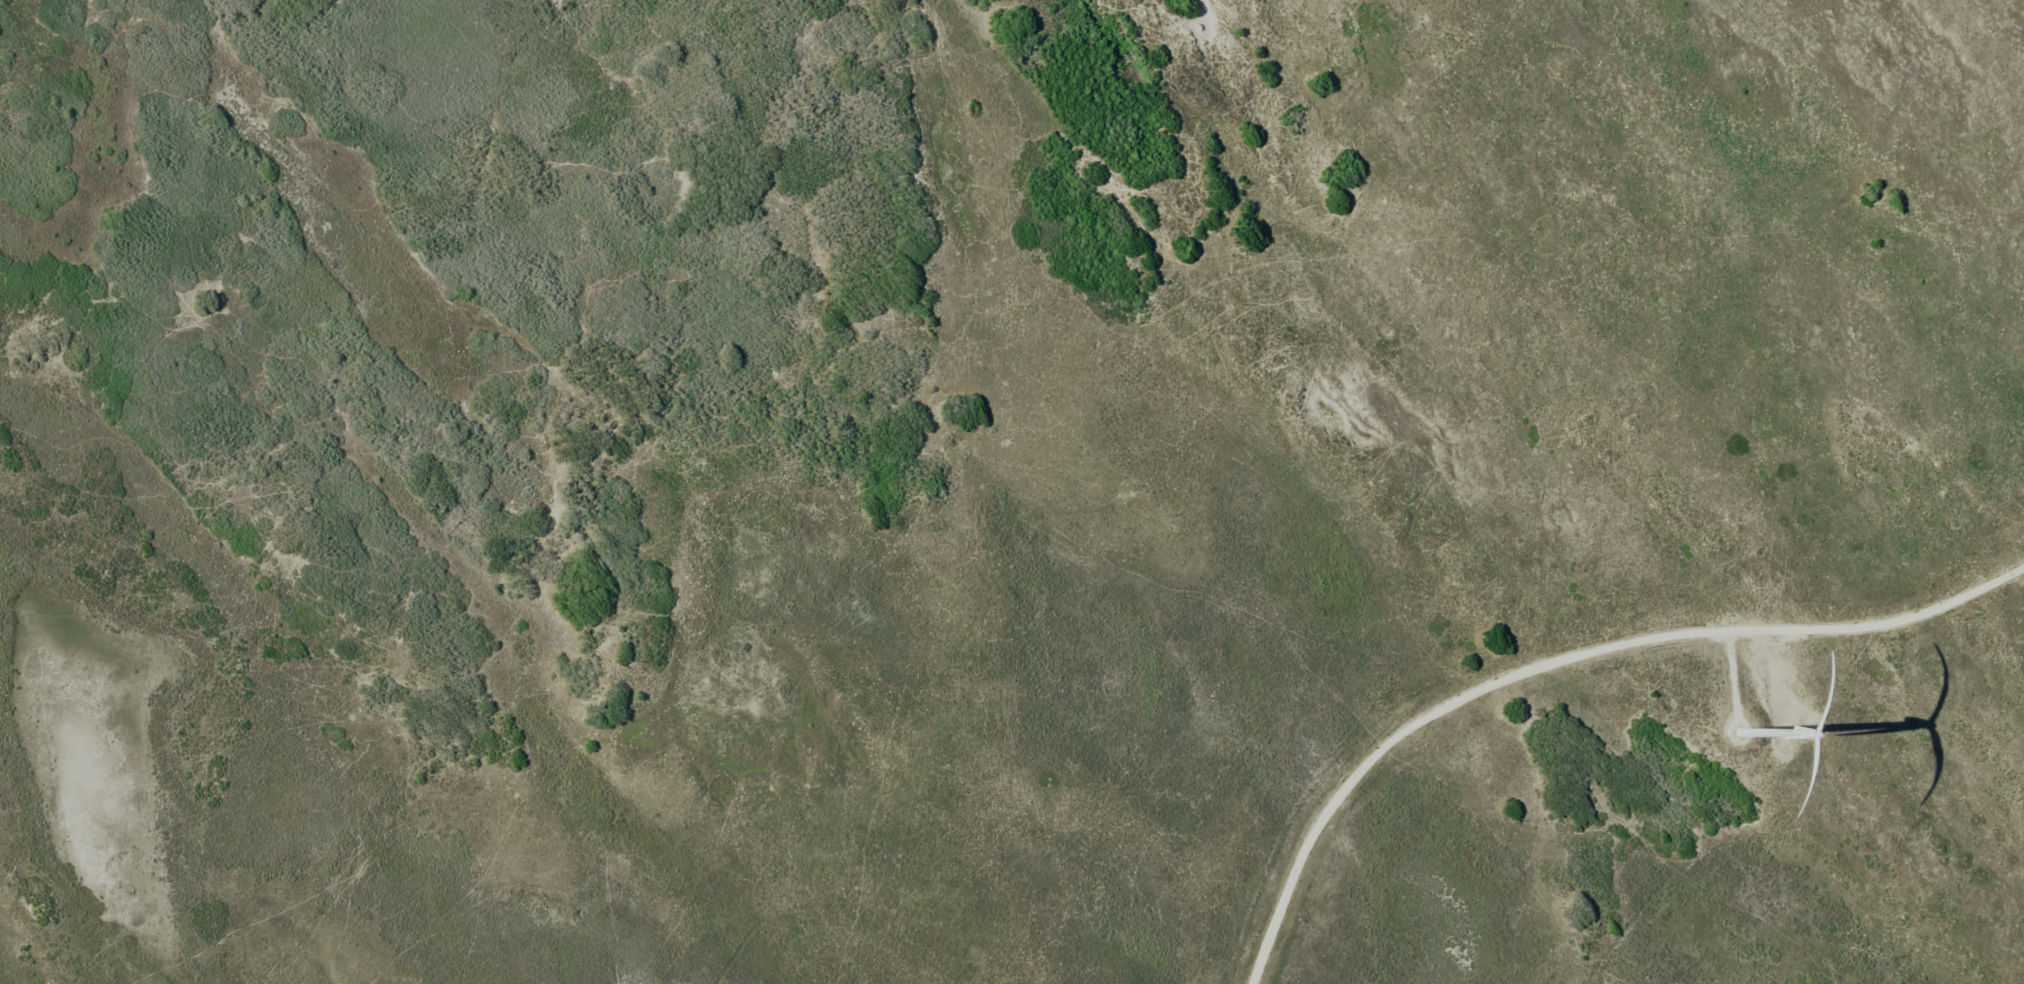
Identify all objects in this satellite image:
wind turbine: (1753, 734)

